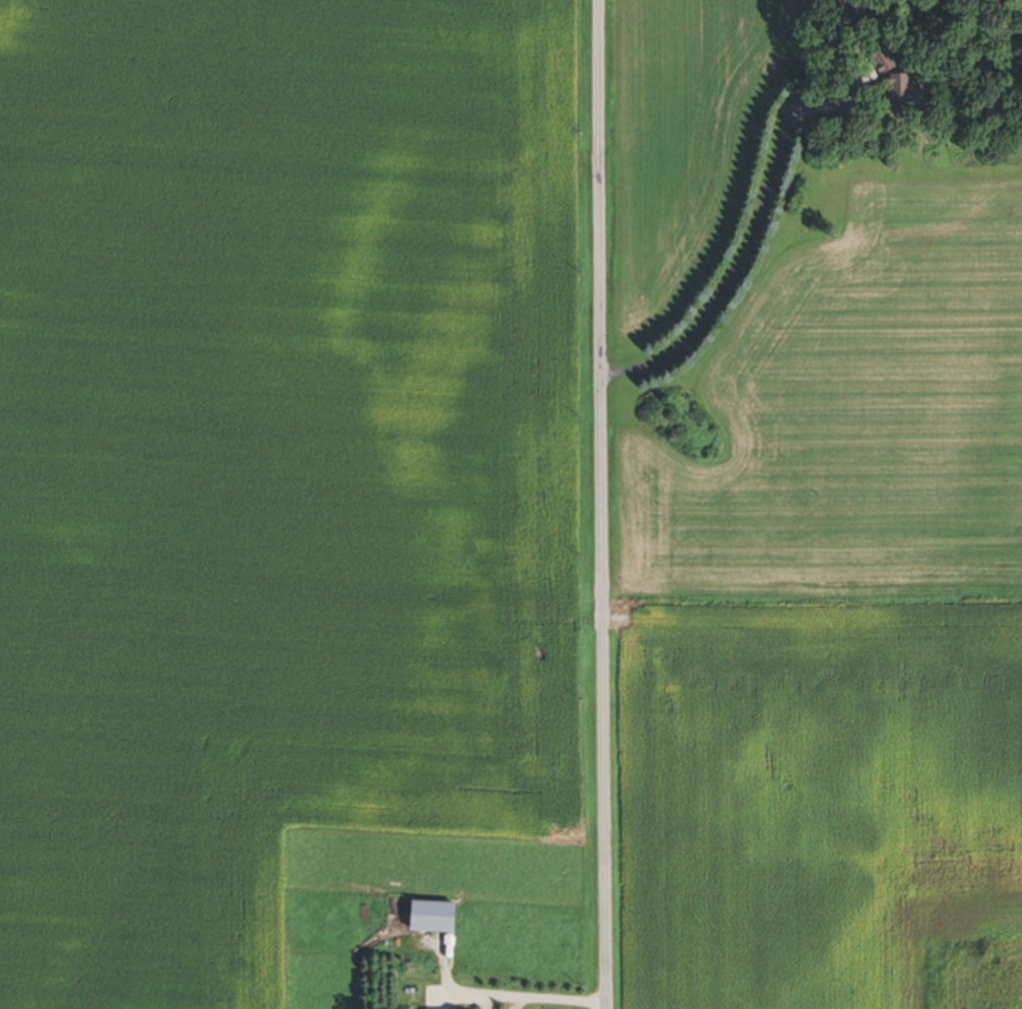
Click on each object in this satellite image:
building: (889, 88)
road: (733, 259)
road: (603, 504)
building: (428, 918)
road: (528, 997)

